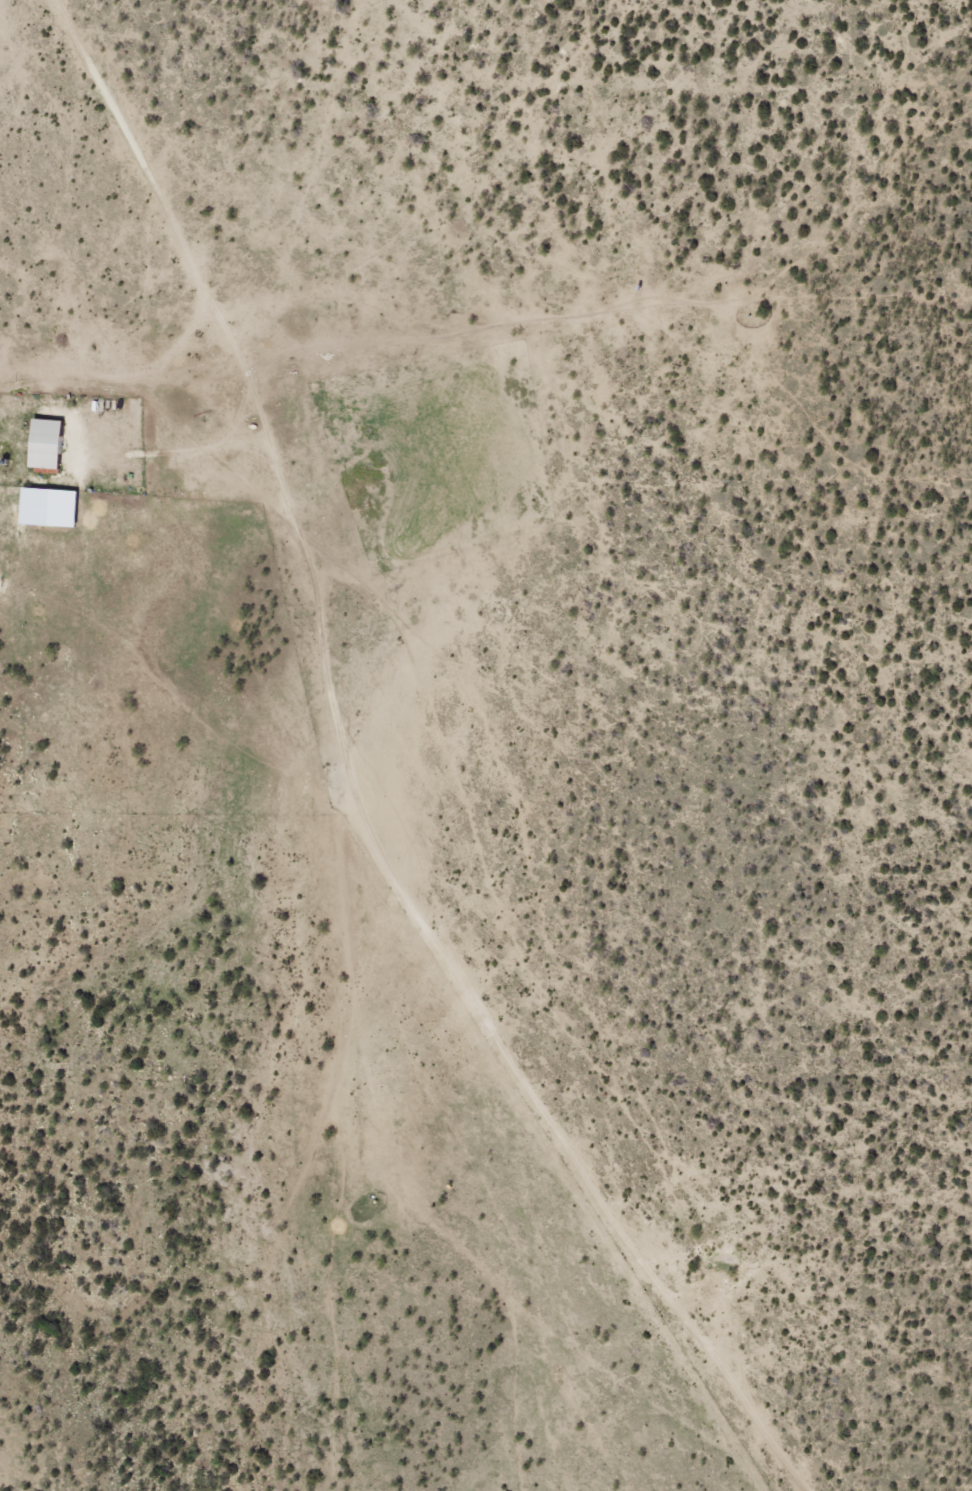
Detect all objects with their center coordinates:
building: (598, 338)
building: (49, 445)
road: (321, 781)

